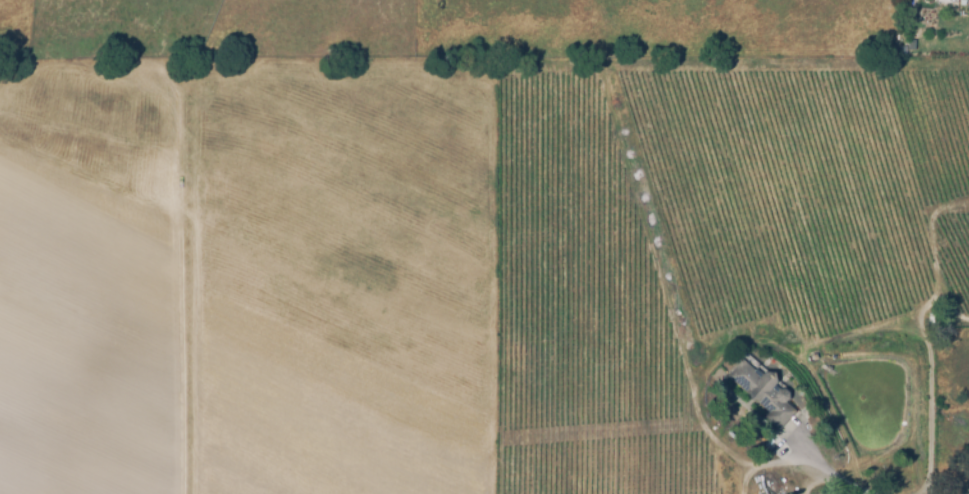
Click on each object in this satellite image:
building: (946, 2)
building: (966, 3)
building: (911, 15)
building: (763, 394)
road: (842, 479)

